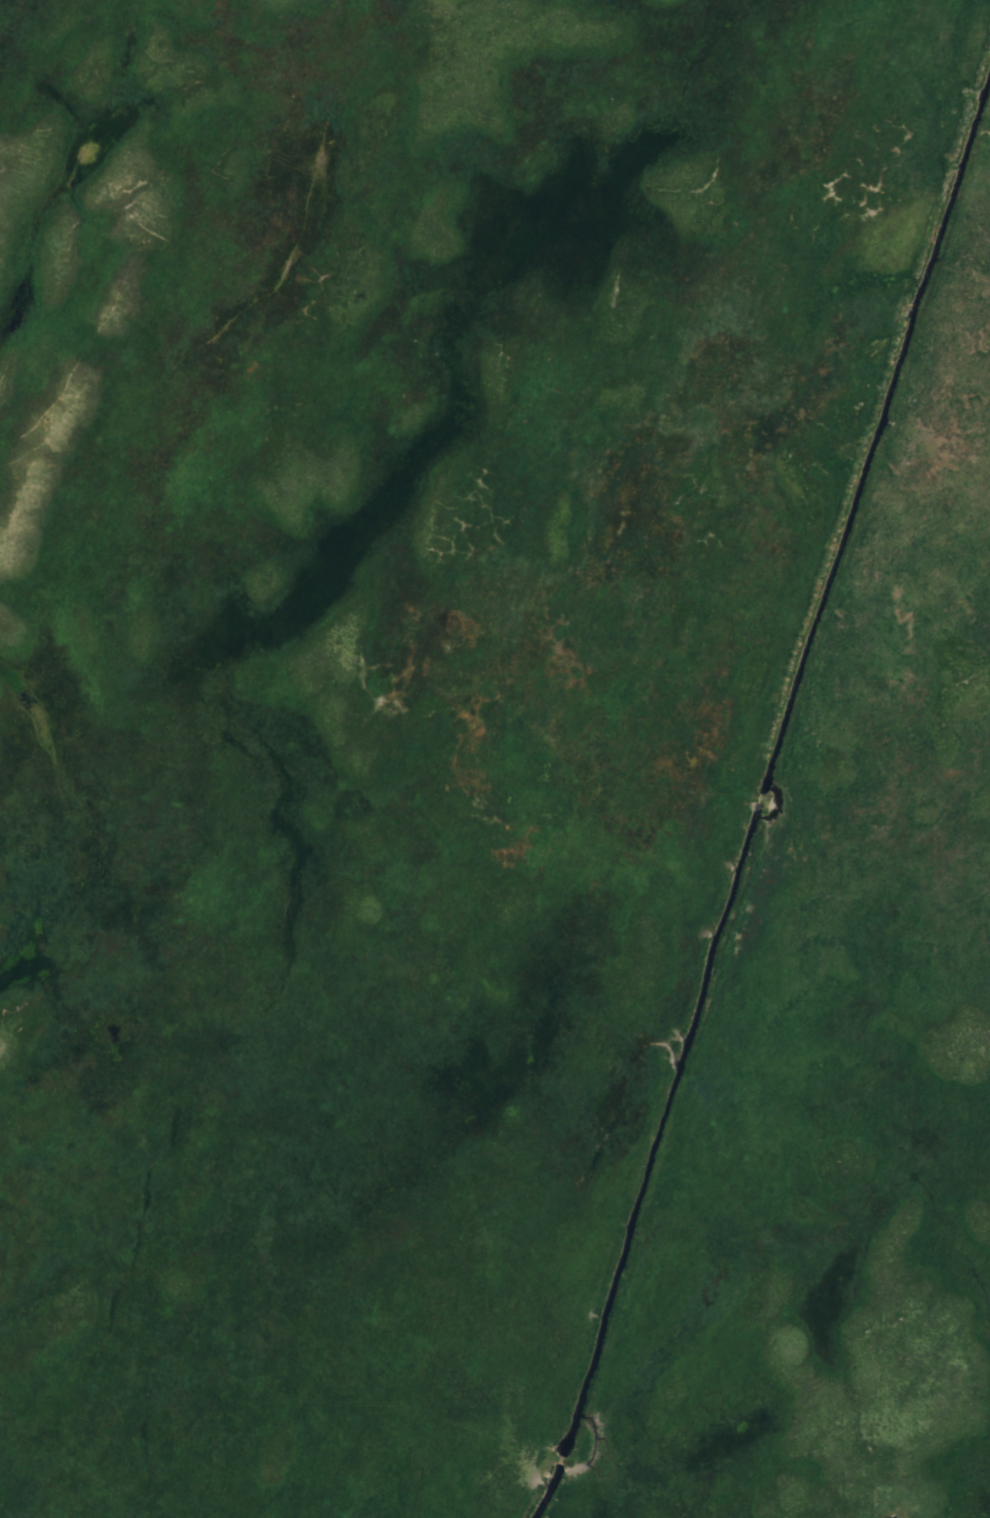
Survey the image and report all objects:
crop: (267, 797)
crop: (896, 1082)

